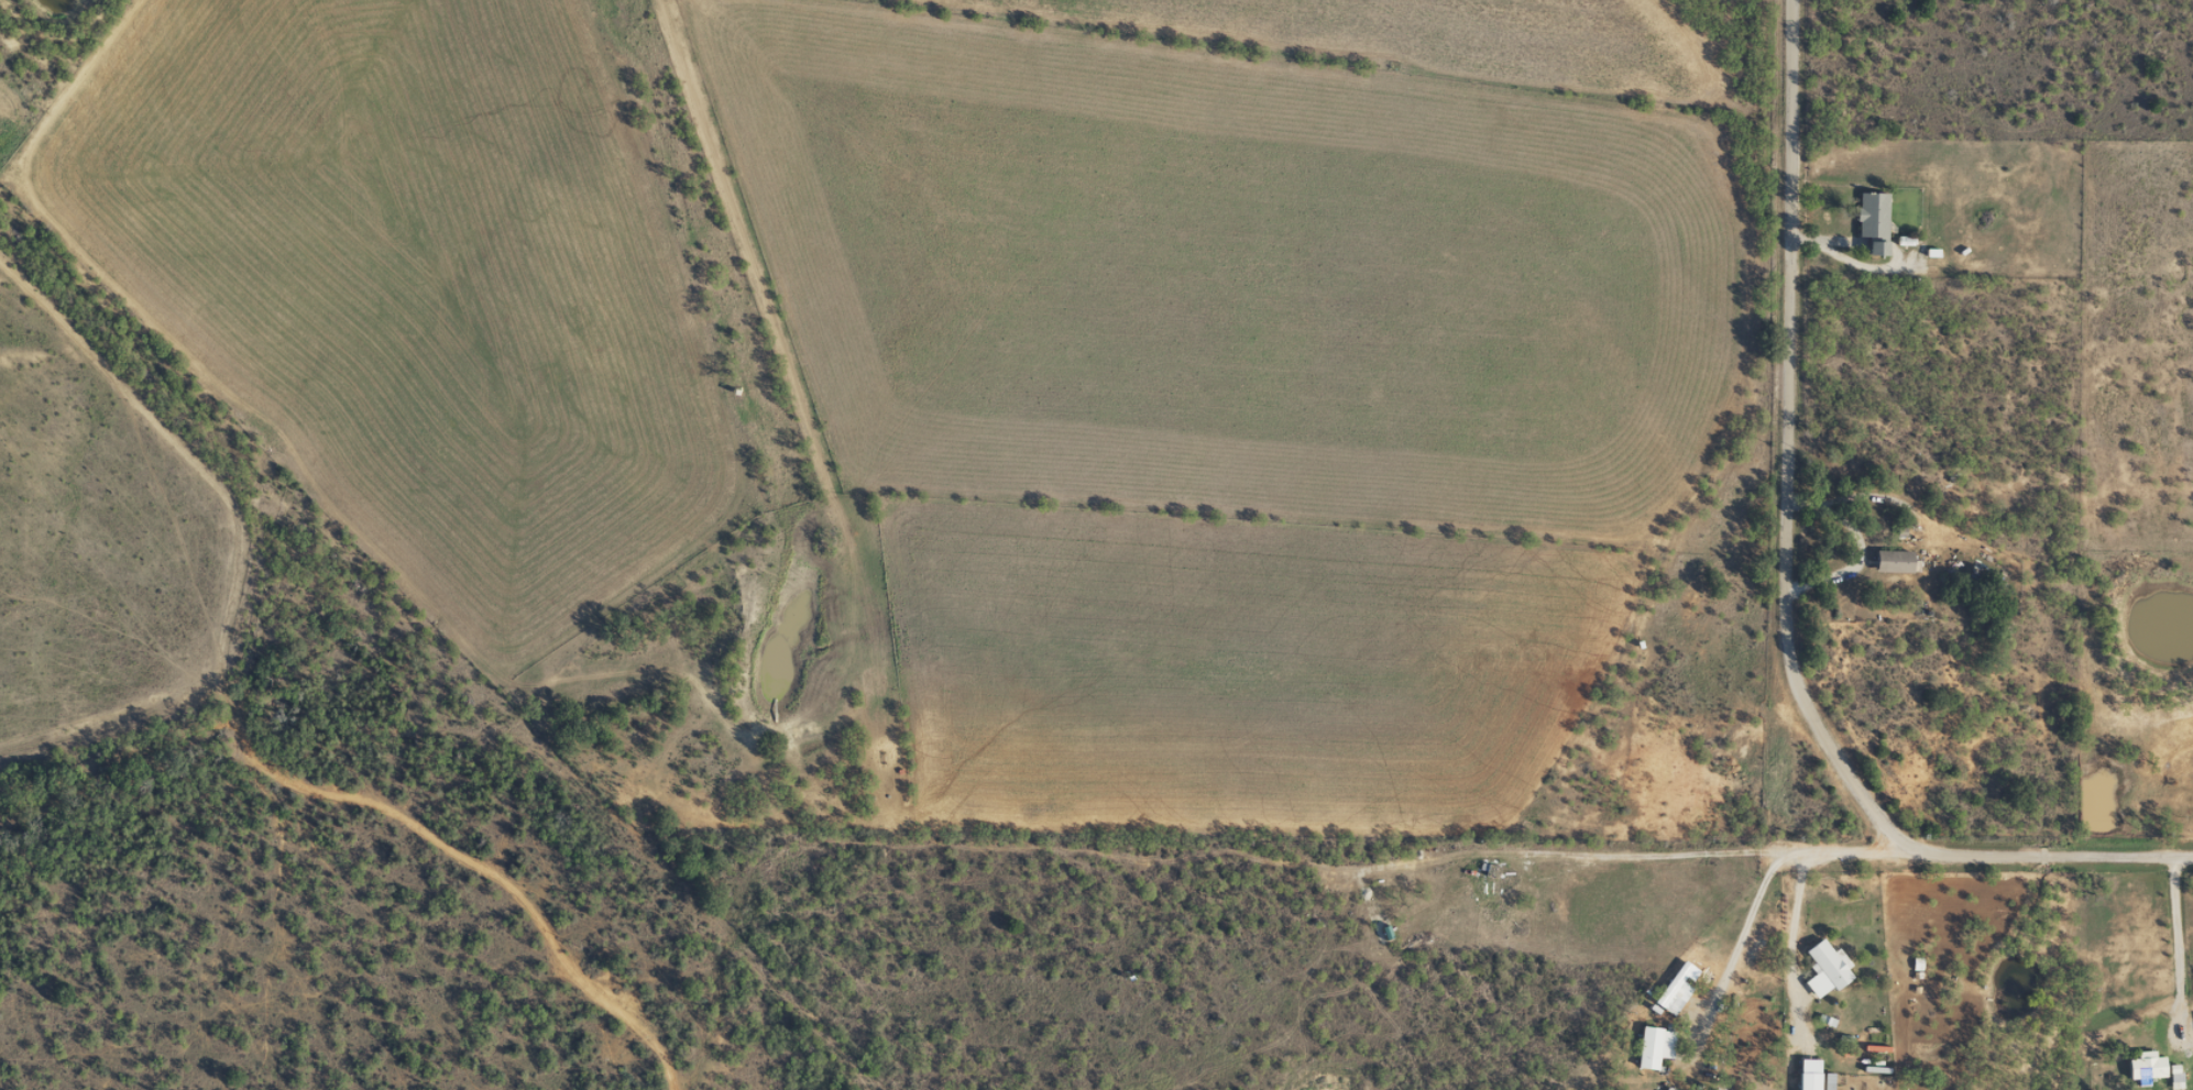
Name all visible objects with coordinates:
road: (18, 214)
building: (1871, 221)
building: (1889, 561)
road: (1736, 608)
road: (493, 861)
building: (1488, 871)
building: (1498, 902)
building: (1821, 970)
building: (1646, 1048)
building: (2142, 1067)
building: (2172, 1074)

